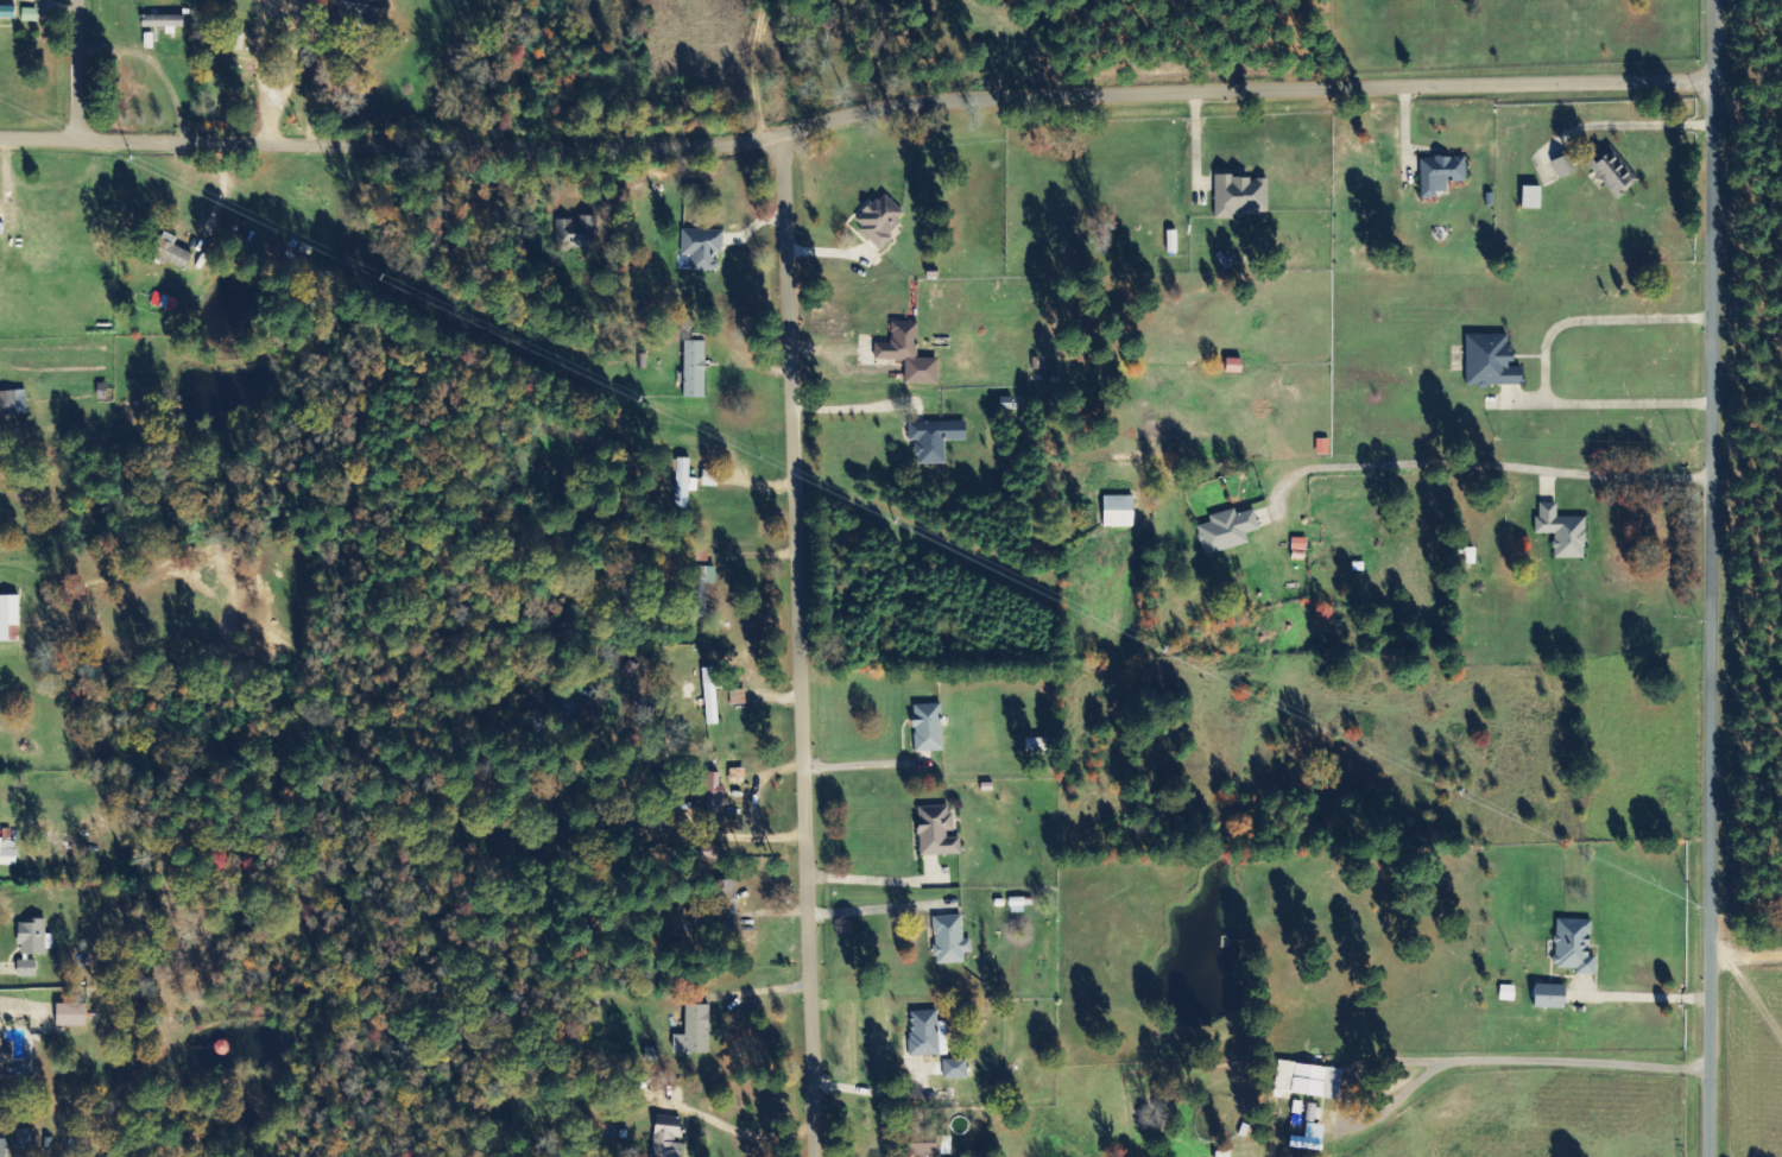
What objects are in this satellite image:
building: (359, 11)
building: (7, 12)
building: (163, 21)
road: (91, 70)
road: (857, 118)
building: (1563, 166)
building: (1614, 173)
building: (1441, 175)
building: (1241, 197)
building: (880, 220)
building: (577, 233)
building: (702, 247)
building: (172, 252)
building: (164, 302)
building: (909, 354)
building: (1491, 362)
building: (1234, 366)
building: (695, 369)
building: (13, 403)
building: (936, 440)
building: (683, 483)
building: (1118, 512)
building: (1226, 531)
building: (1563, 532)
building: (1300, 544)
road: (1715, 577)
building: (703, 587)
building: (10, 619)
road: (803, 644)
building: (710, 696)
building: (928, 728)
building: (737, 777)
building: (937, 832)
building: (7, 849)
building: (33, 938)
building: (949, 941)
building: (1574, 947)
building: (27, 969)
building: (1550, 997)
building: (71, 1016)
building: (695, 1031)
building: (927, 1035)
building: (5, 1057)
building: (955, 1069)
building: (1309, 1081)
building: (669, 1137)
building: (1310, 1139)
building: (25, 1142)
building: (2, 1149)

